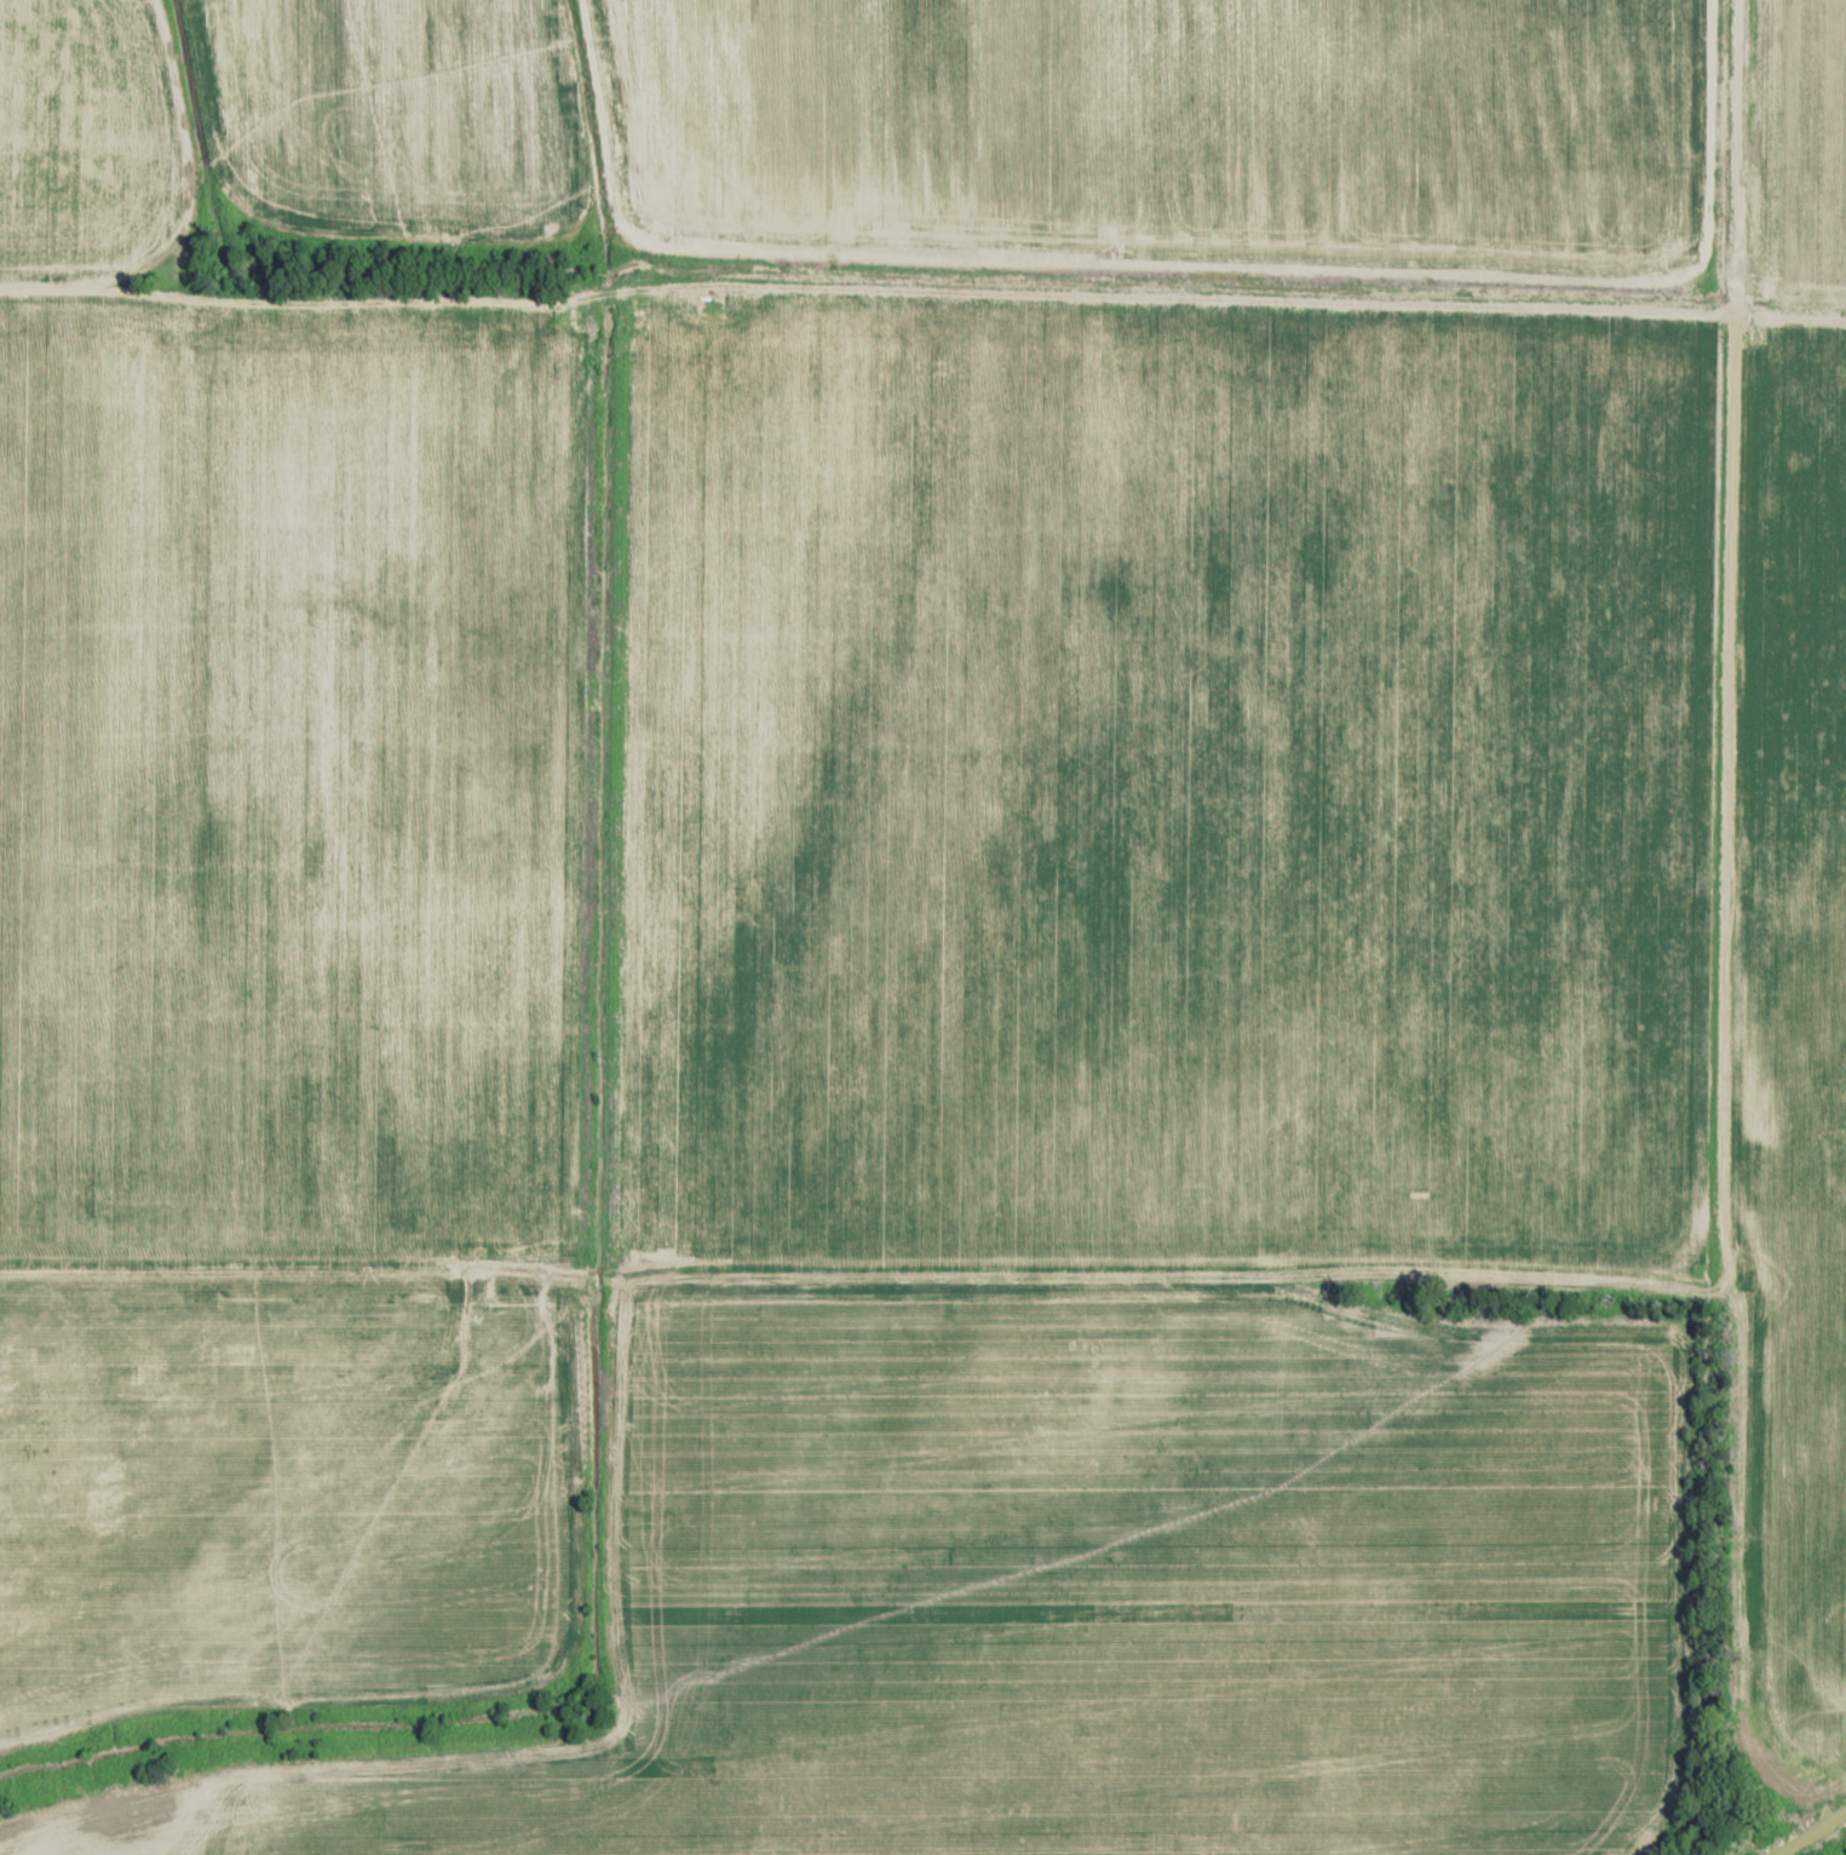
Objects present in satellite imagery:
road: (185, 212)
road: (1721, 643)

